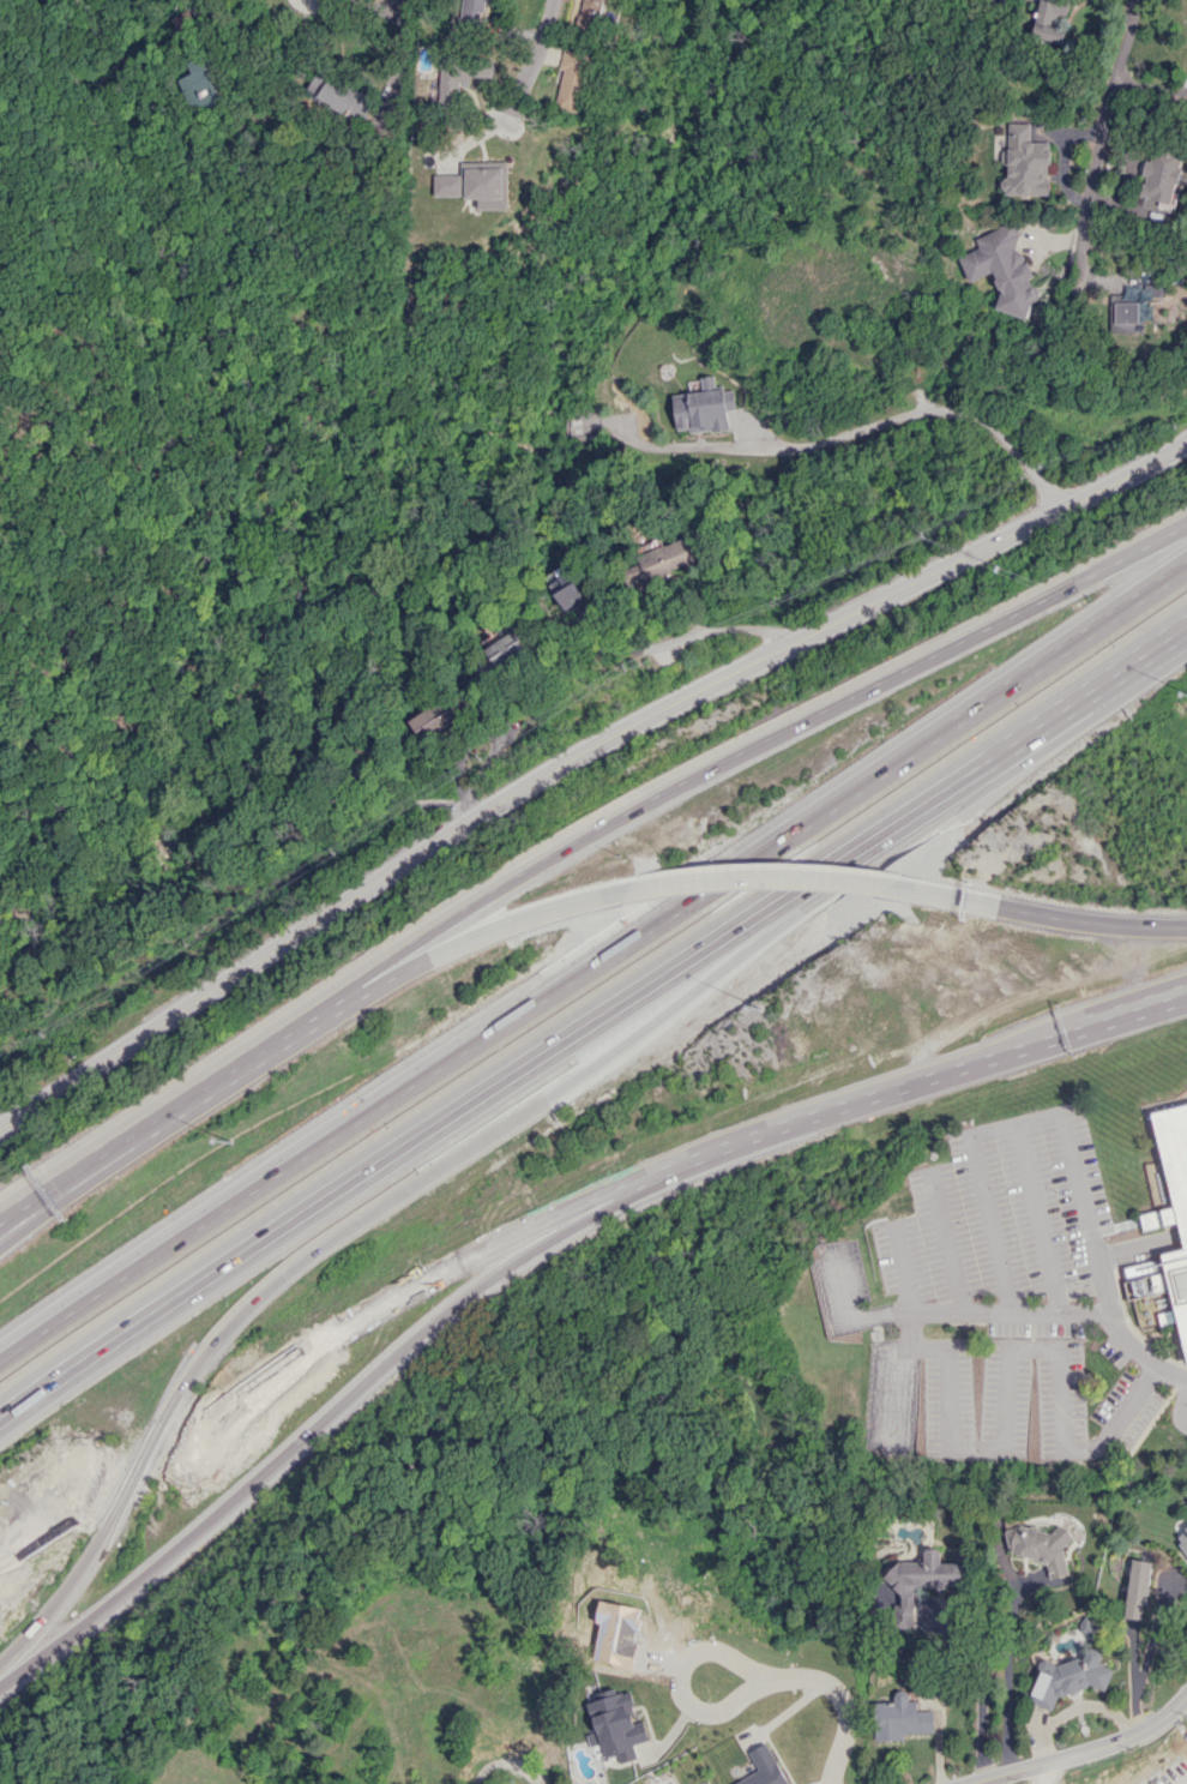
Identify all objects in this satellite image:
road: (315, 0)
building: (307, 5)
building: (470, 12)
road: (243, 14)
building: (590, 14)
building: (1049, 19)
road: (406, 40)
road: (535, 56)
building: (460, 76)
building: (572, 80)
building: (203, 85)
building: (342, 96)
road: (1105, 120)
building: (1025, 162)
building: (1161, 173)
building: (478, 184)
building: (1005, 269)
building: (1153, 290)
building: (1127, 313)
road: (910, 414)
road: (241, 507)
building: (663, 561)
building: (568, 589)
road: (675, 606)
road: (675, 639)
road: (1162, 641)
building: (508, 650)
building: (439, 717)
road: (499, 729)
road: (748, 746)
road: (573, 753)
road: (405, 806)
road: (754, 876)
road: (1060, 918)
road: (451, 948)
road: (592, 959)
road: (759, 961)
road: (632, 993)
road: (908, 1083)
road: (195, 1091)
road: (1072, 1172)
building: (1174, 1197)
road: (30, 1201)
road: (30, 1215)
road: (1036, 1217)
road: (989, 1223)
road: (947, 1241)
road: (904, 1266)
road: (410, 1291)
road: (1064, 1313)
road: (849, 1316)
road: (1006, 1366)
road: (62, 1374)
road: (894, 1390)
road: (1181, 1404)
road: (157, 1430)
road: (311, 1430)
road: (140, 1464)
road: (38, 1531)
building: (1182, 1538)
building: (1040, 1548)
building: (921, 1581)
building: (1137, 1590)
road: (1006, 1677)
building: (1068, 1677)
road: (682, 1686)
road: (983, 1686)
road: (837, 1701)
building: (899, 1719)
building: (615, 1726)
road: (1084, 1750)
building: (763, 1767)
park: (1041, 1777)

